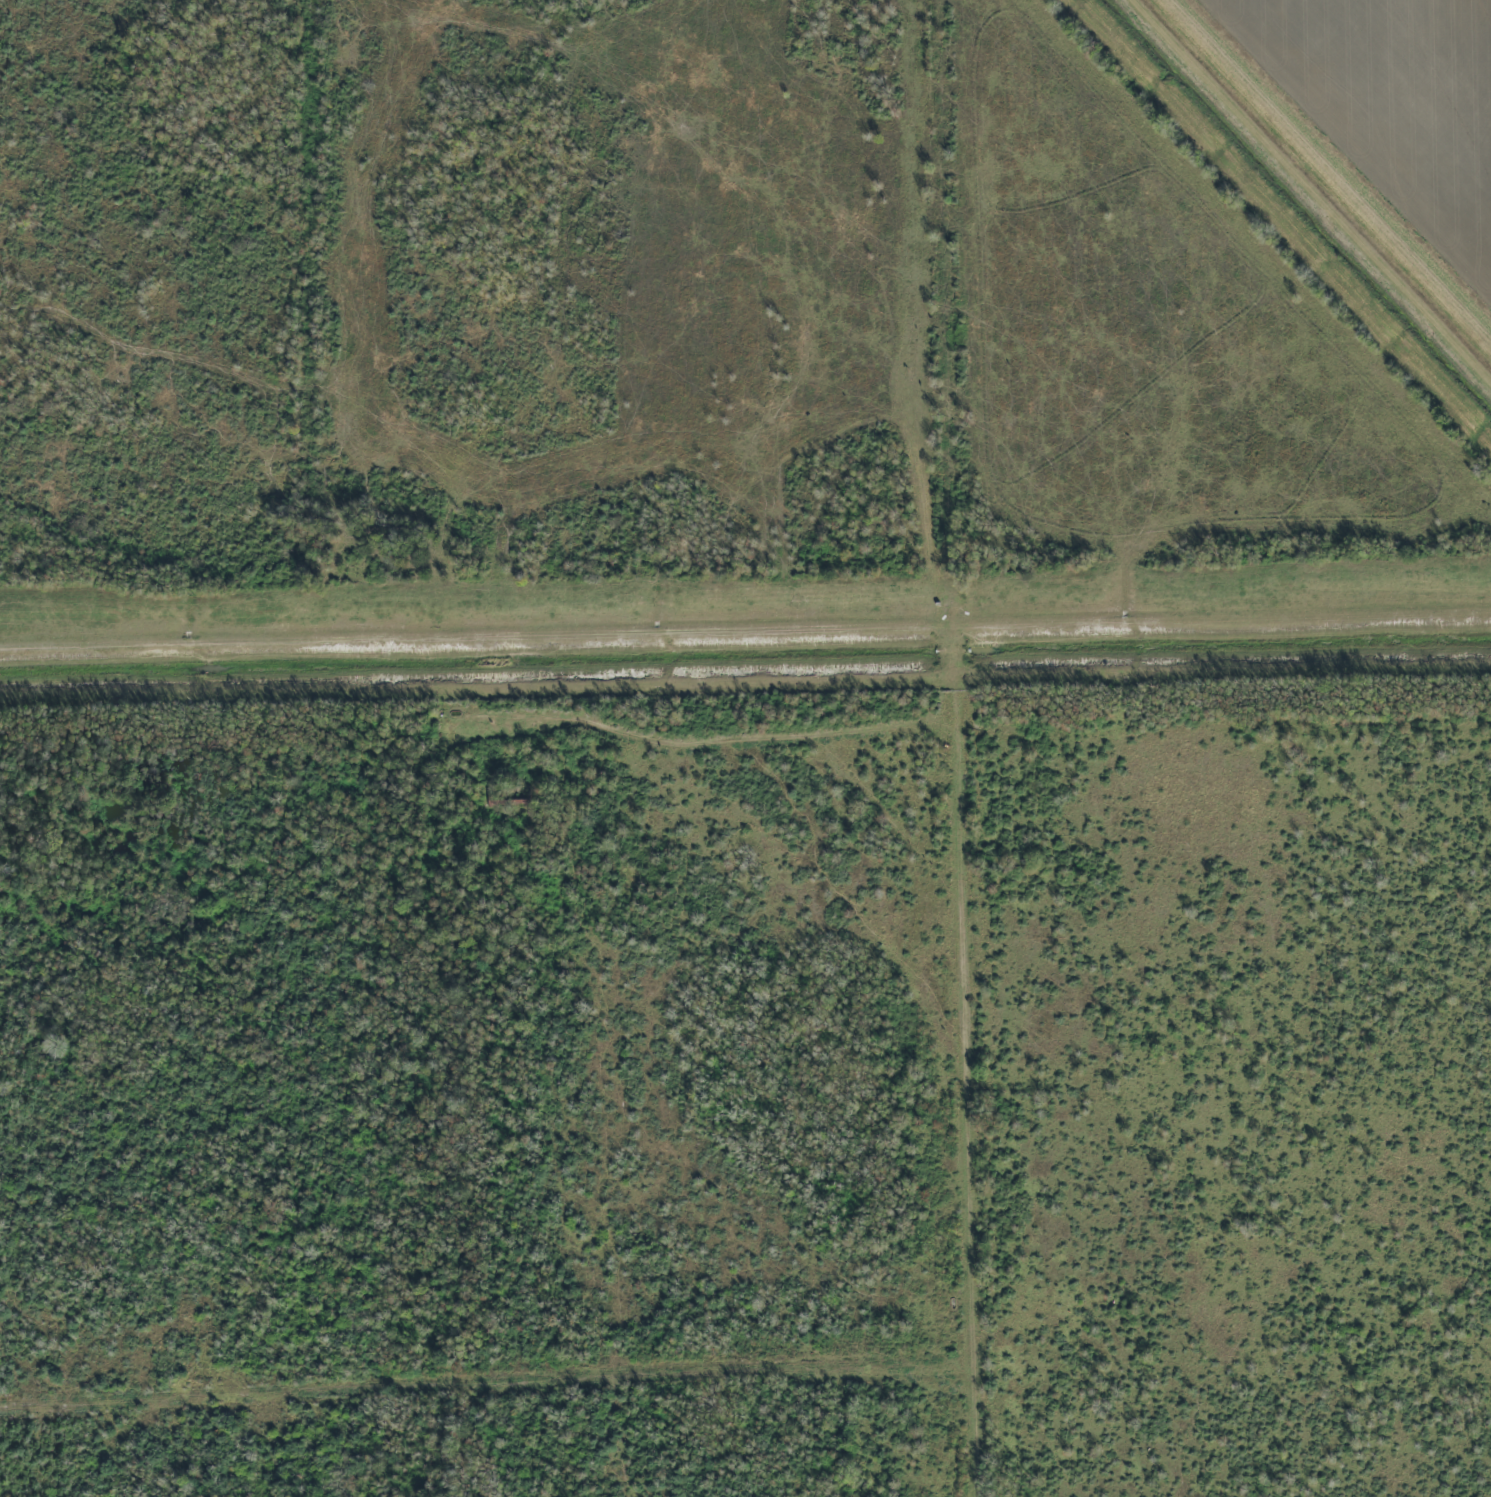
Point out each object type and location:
road: (1335, 165)
road: (1225, 625)
road: (792, 627)
road: (970, 1061)

